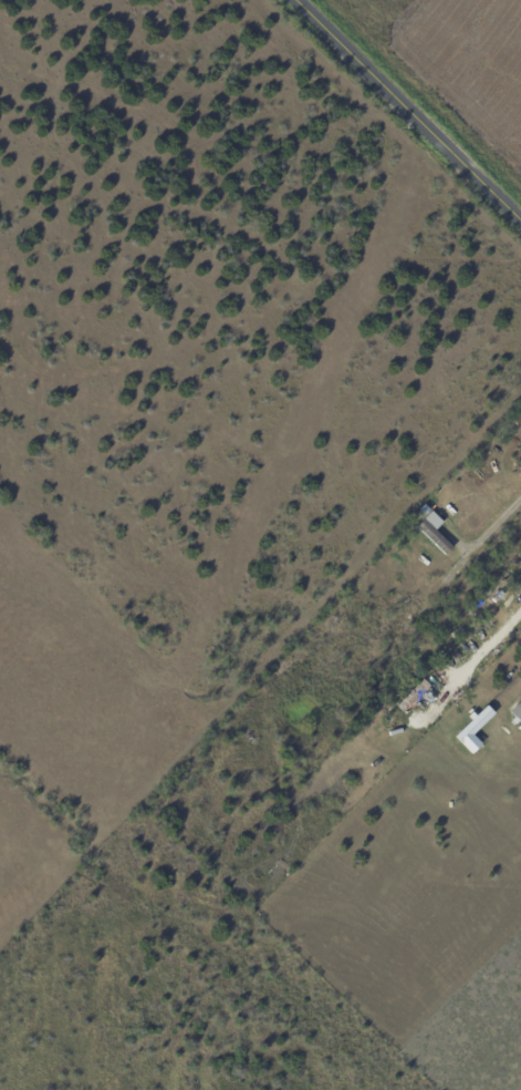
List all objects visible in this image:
road: (410, 106)
building: (518, 421)
road: (497, 527)
building: (436, 537)
building: (492, 601)
building: (458, 633)
road: (487, 646)
building: (418, 699)
building: (518, 712)

